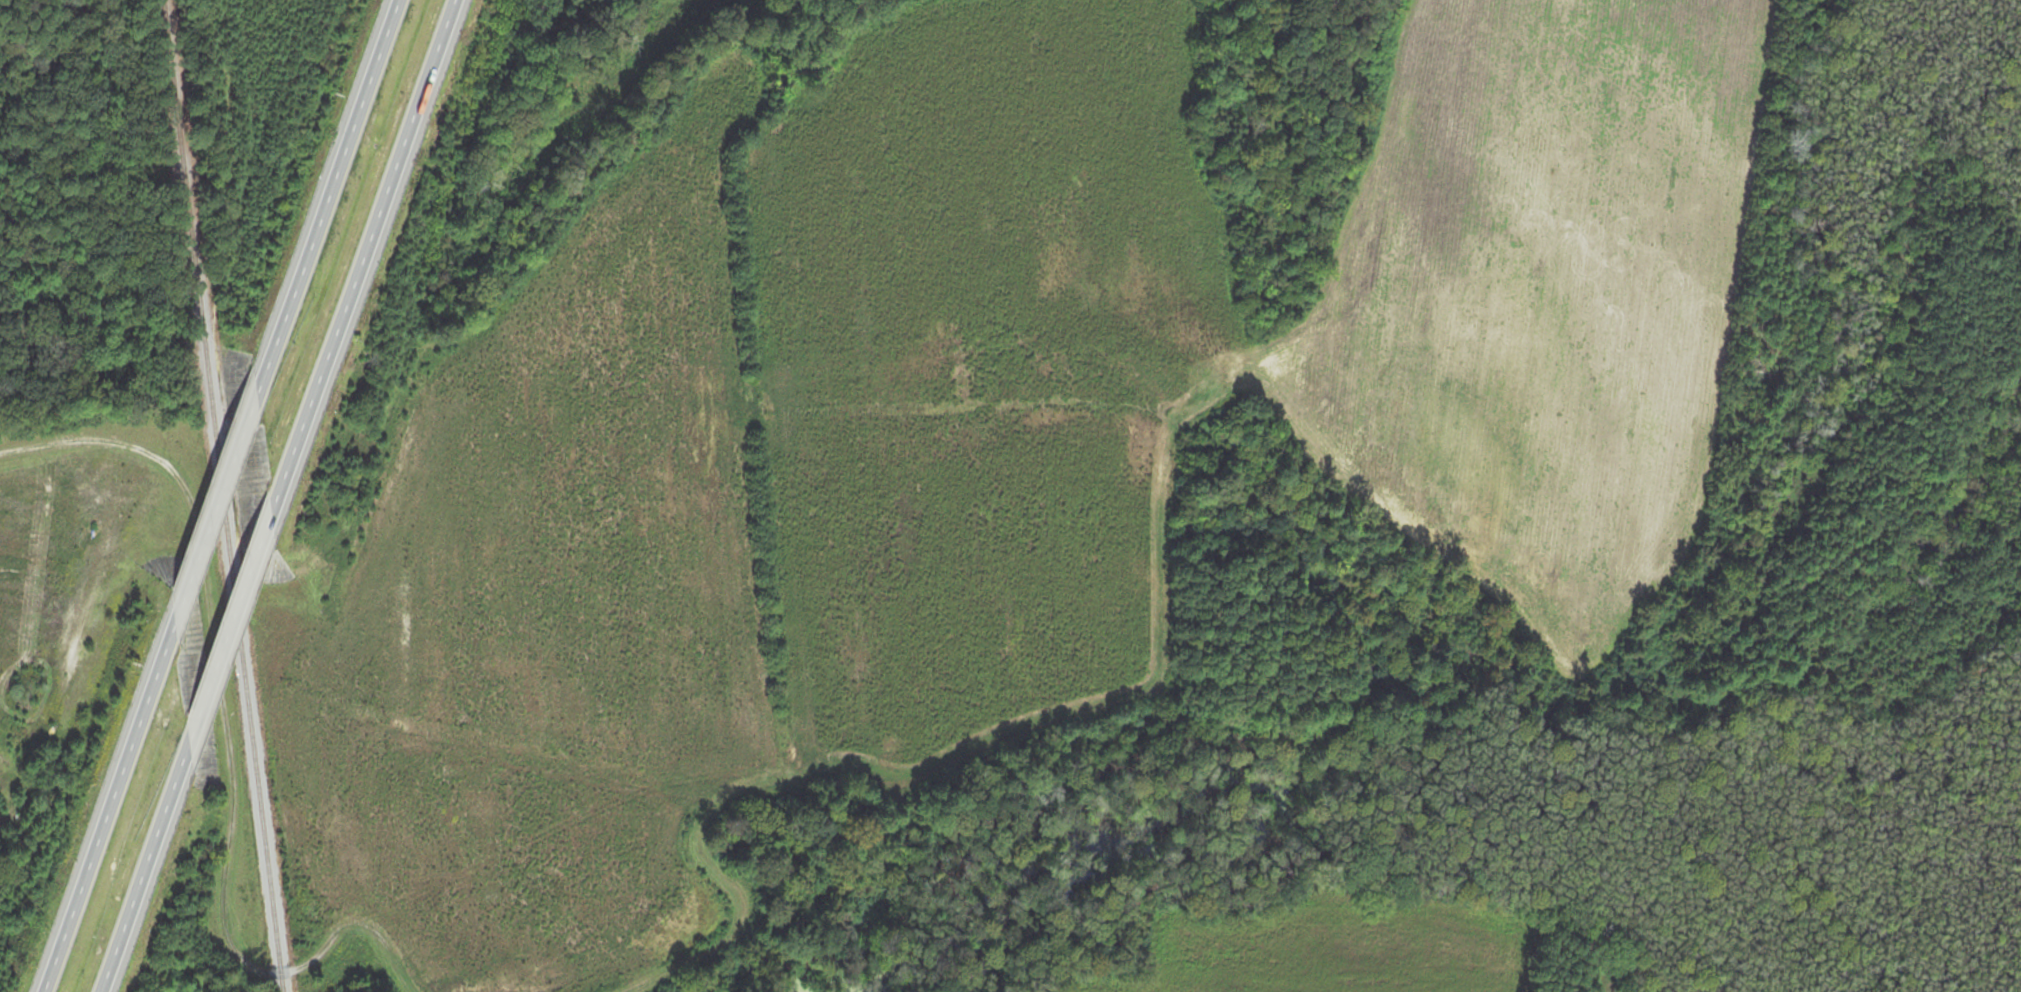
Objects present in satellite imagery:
road: (323, 198)
road: (362, 258)
road: (102, 439)
railway: (224, 495)
road: (212, 511)
road: (232, 629)
road: (107, 809)
road: (147, 866)

